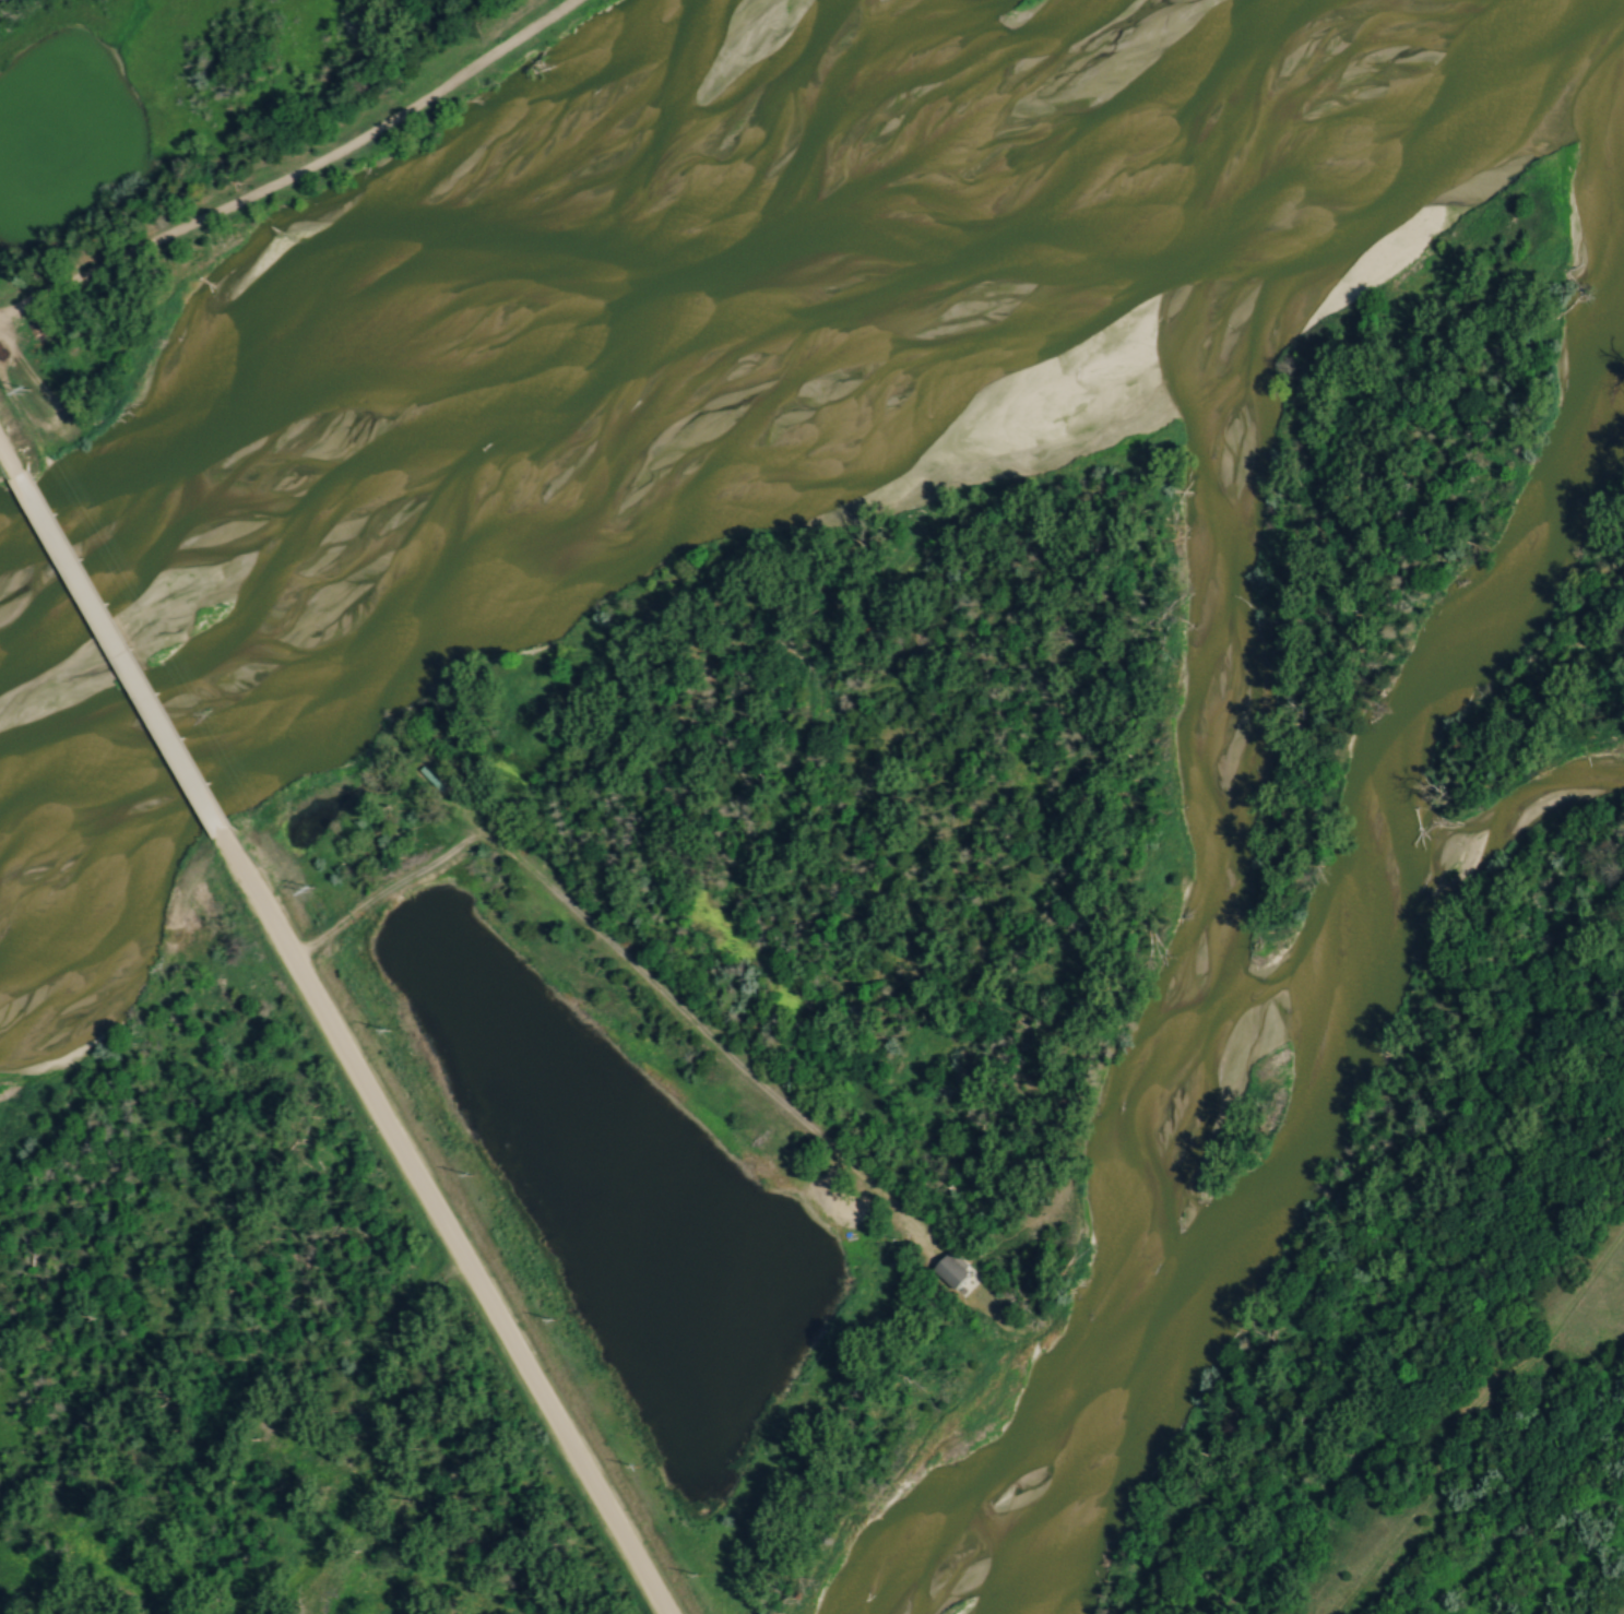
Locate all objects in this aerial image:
road: (301, 178)
river: (710, 438)
road: (5, 456)
road: (125, 660)
road: (452, 1234)
building: (955, 1271)

